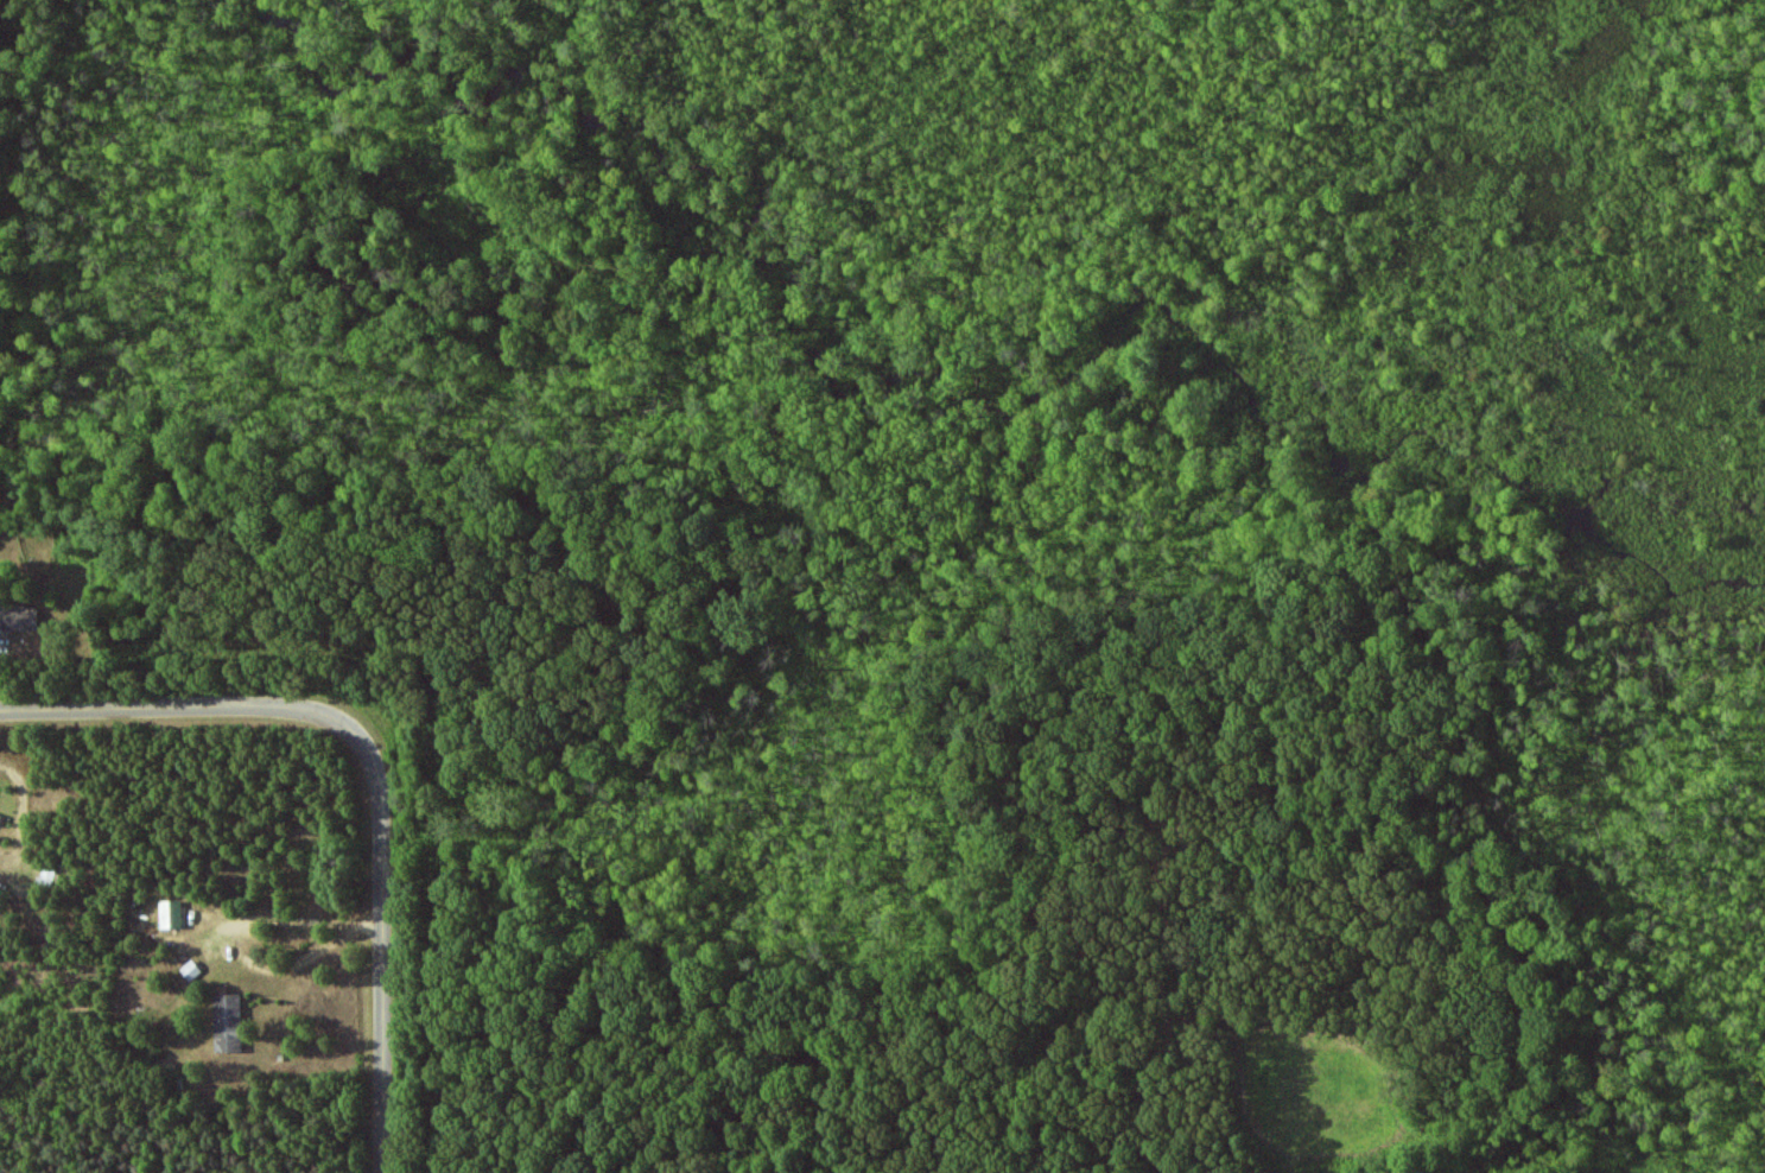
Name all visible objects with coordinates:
building: (18, 619)
road: (152, 710)
building: (0, 814)
building: (170, 914)
road: (383, 919)
building: (227, 1023)

